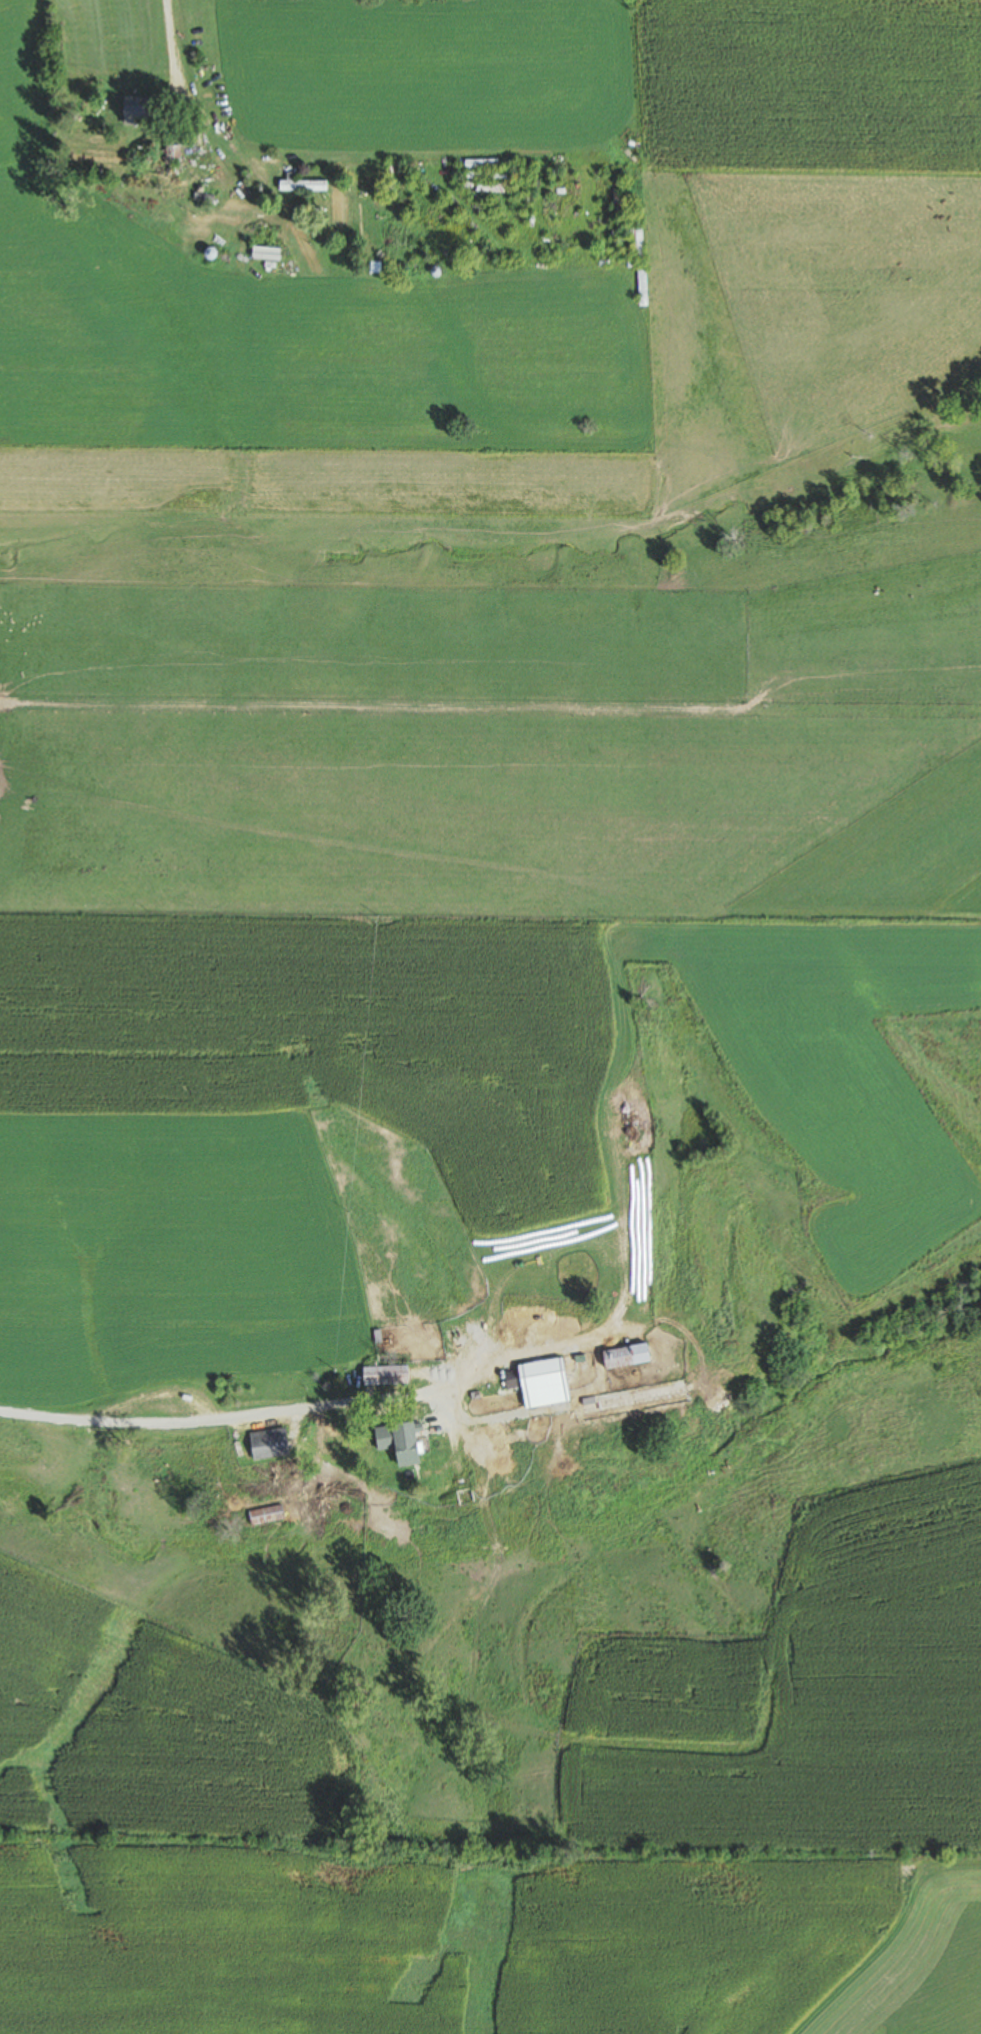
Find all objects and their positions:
building: (132, 110)
building: (485, 173)
building: (300, 183)
building: (483, 186)
building: (624, 1356)
building: (383, 1375)
building: (508, 1379)
building: (541, 1383)
road: (157, 1426)
building: (396, 1442)
building: (266, 1444)
building: (461, 1493)
building: (264, 1514)

